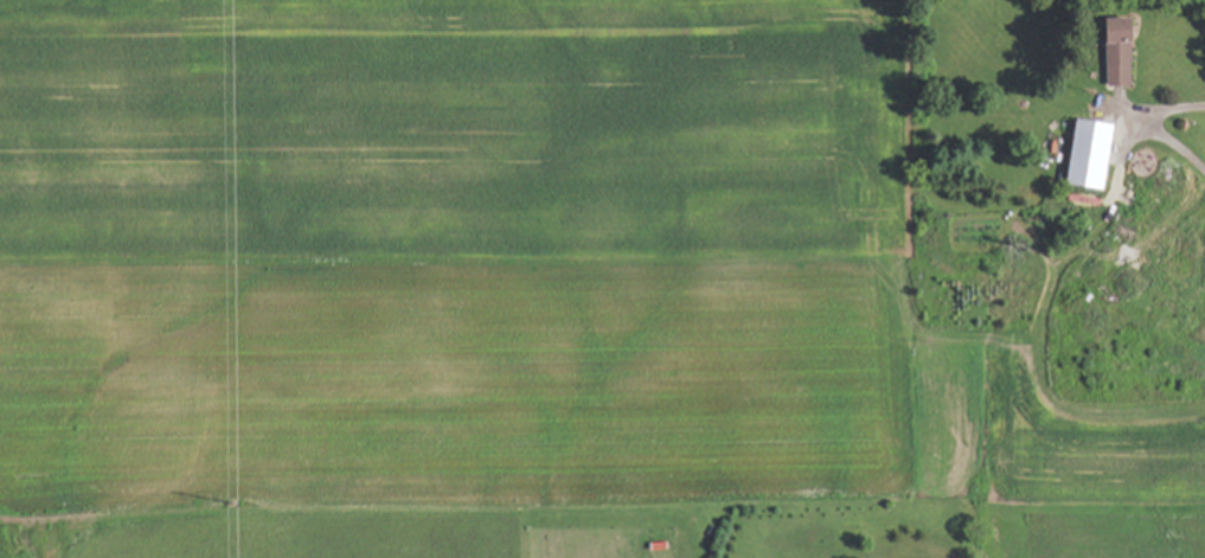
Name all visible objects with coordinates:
building: (1111, 52)
road: (1153, 127)

